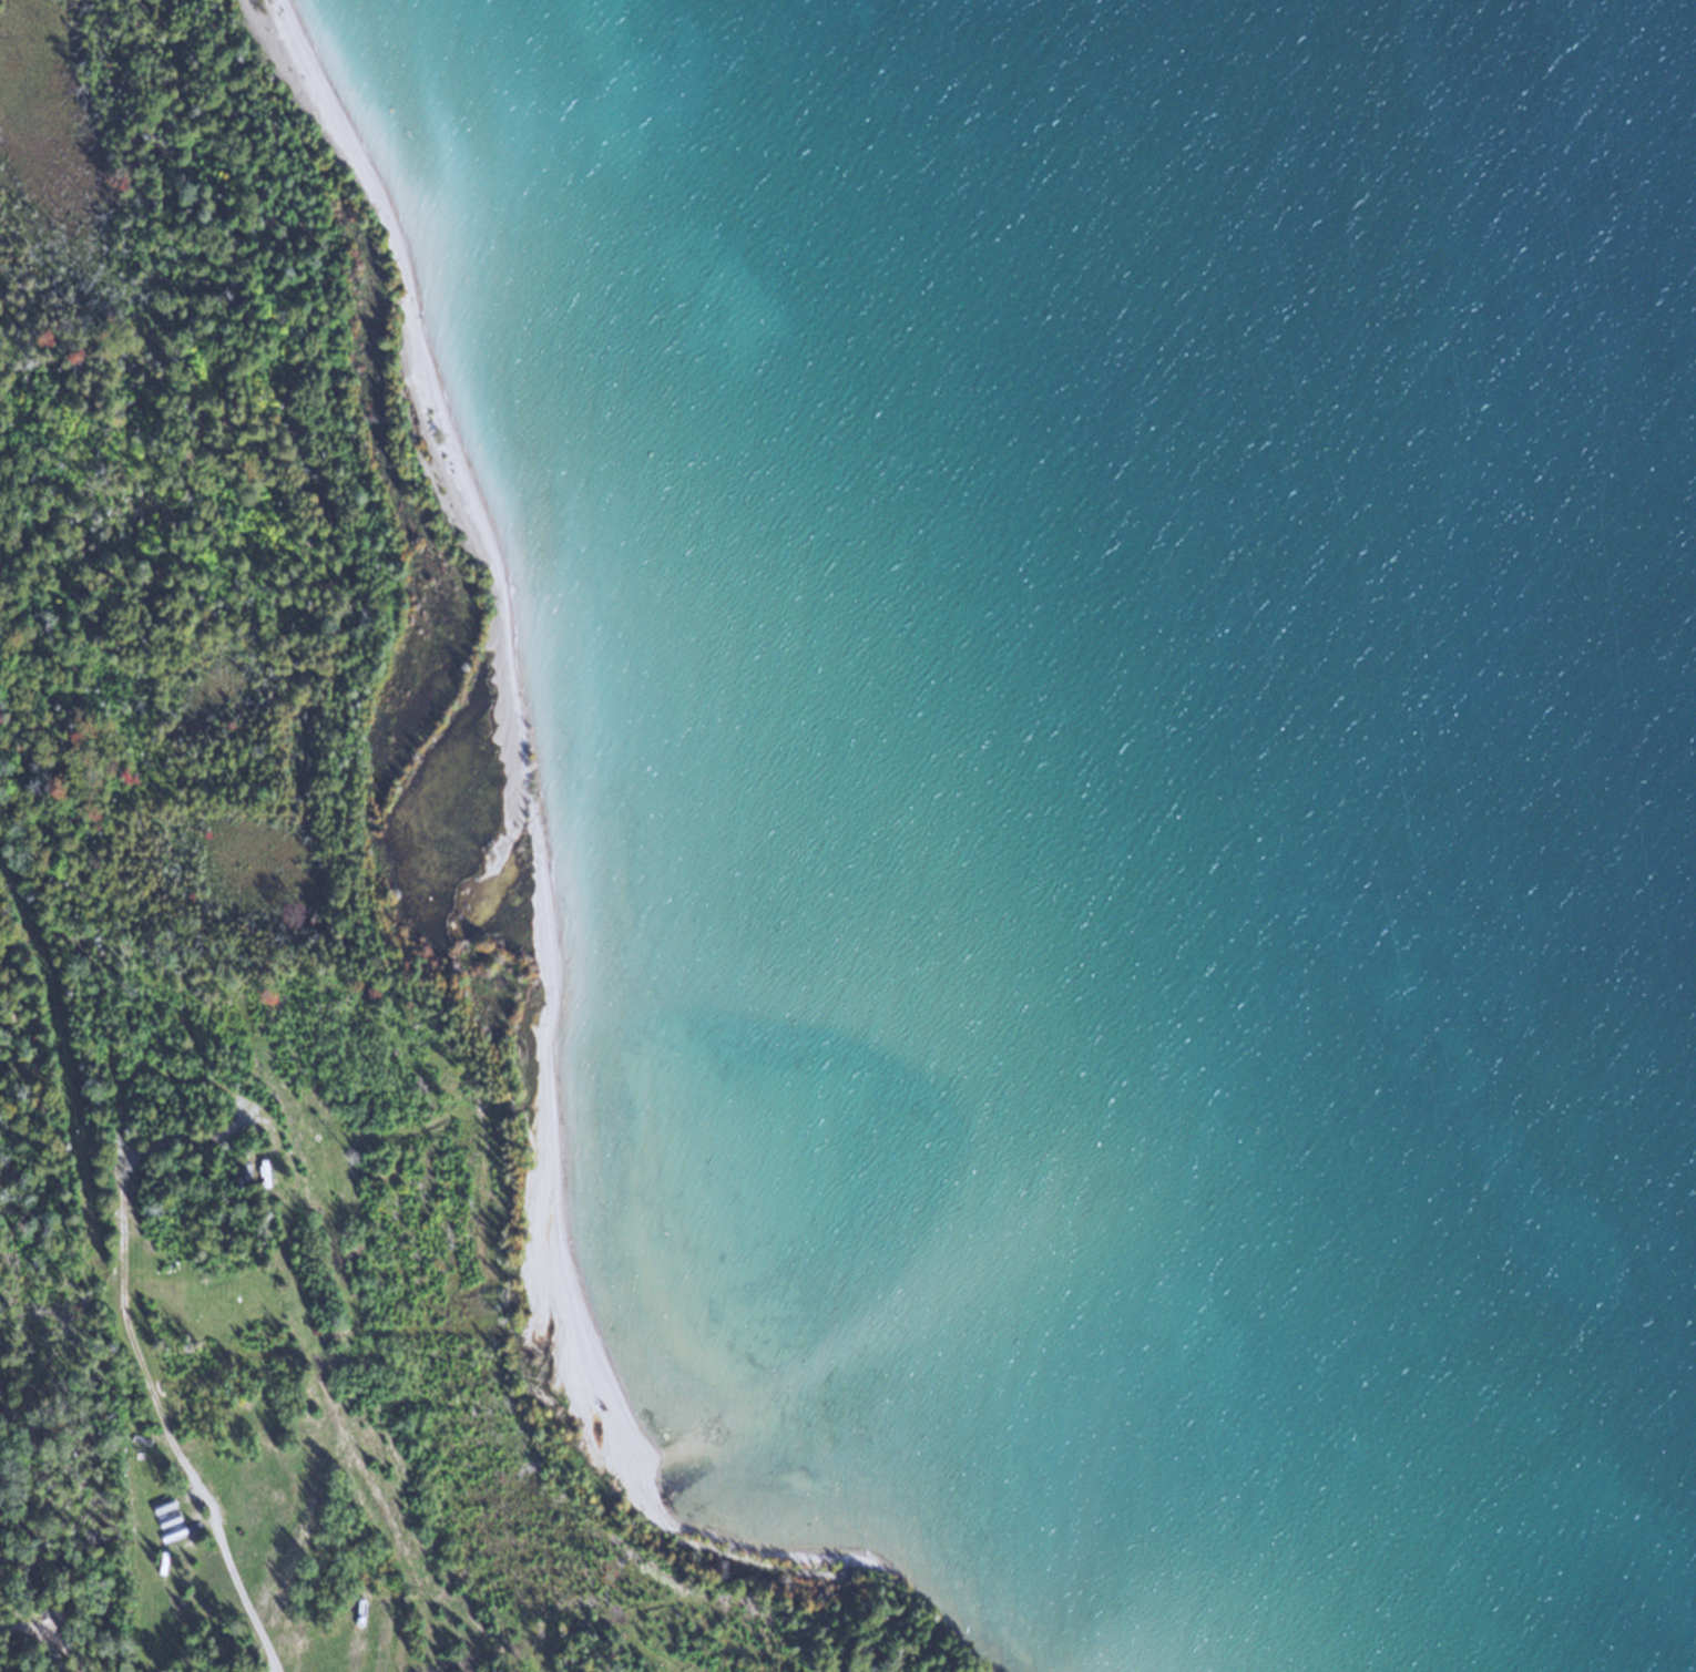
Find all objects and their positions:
park: (285, 664)
road: (60, 1038)
road: (181, 1453)
building: (172, 1520)
road: (69, 1650)

